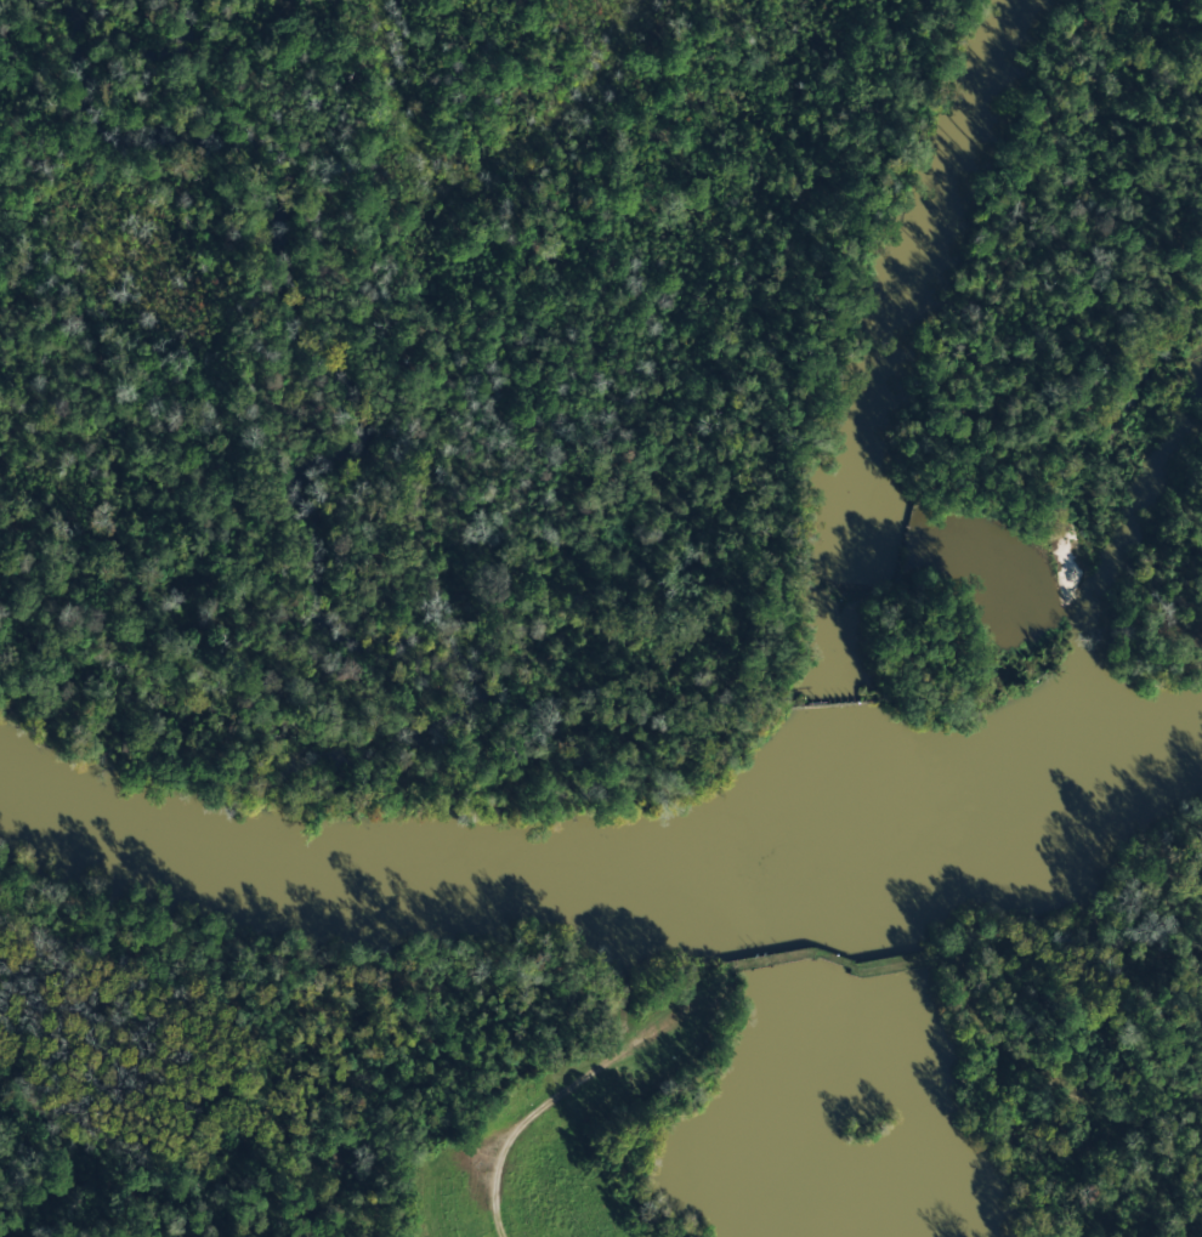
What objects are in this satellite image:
river: (601, 879)
road: (565, 1094)

